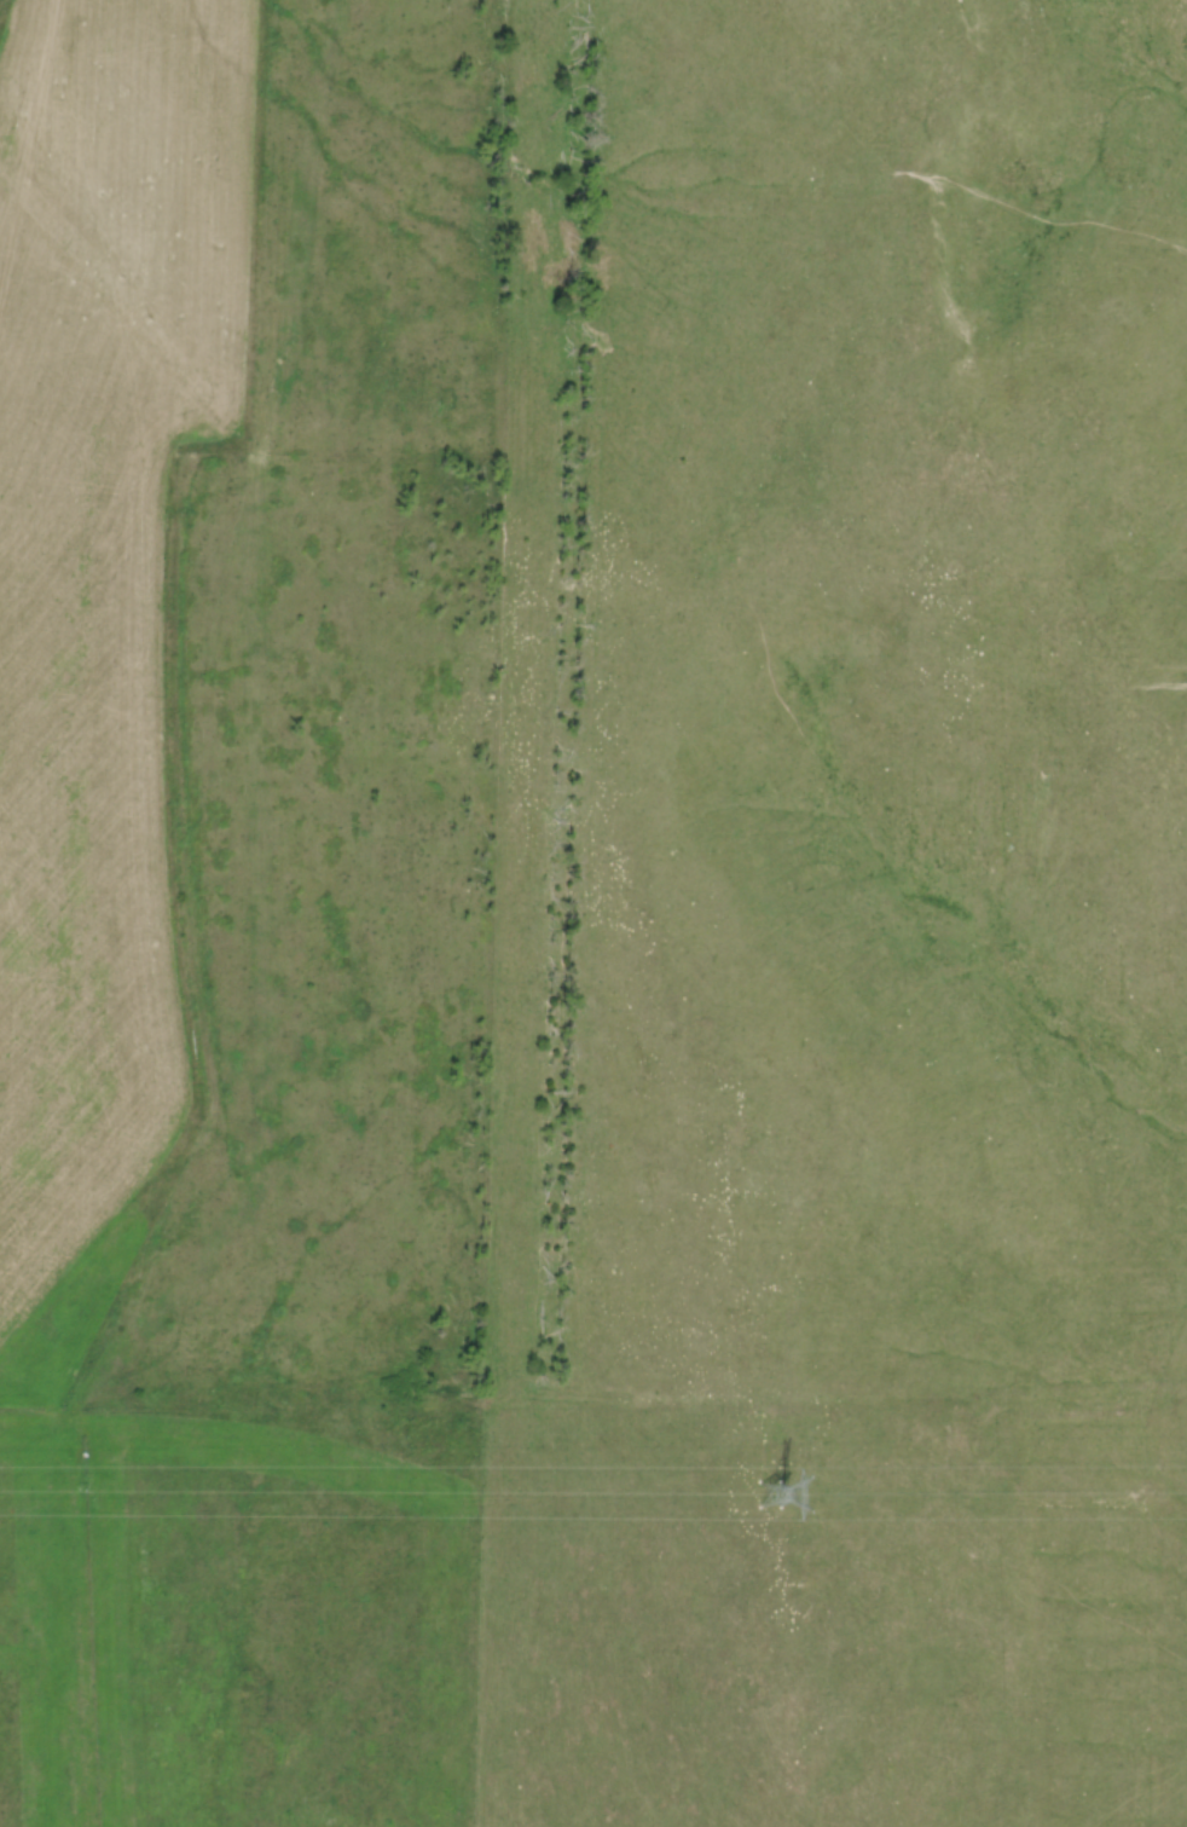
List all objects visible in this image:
power tower: (769, 1494)

